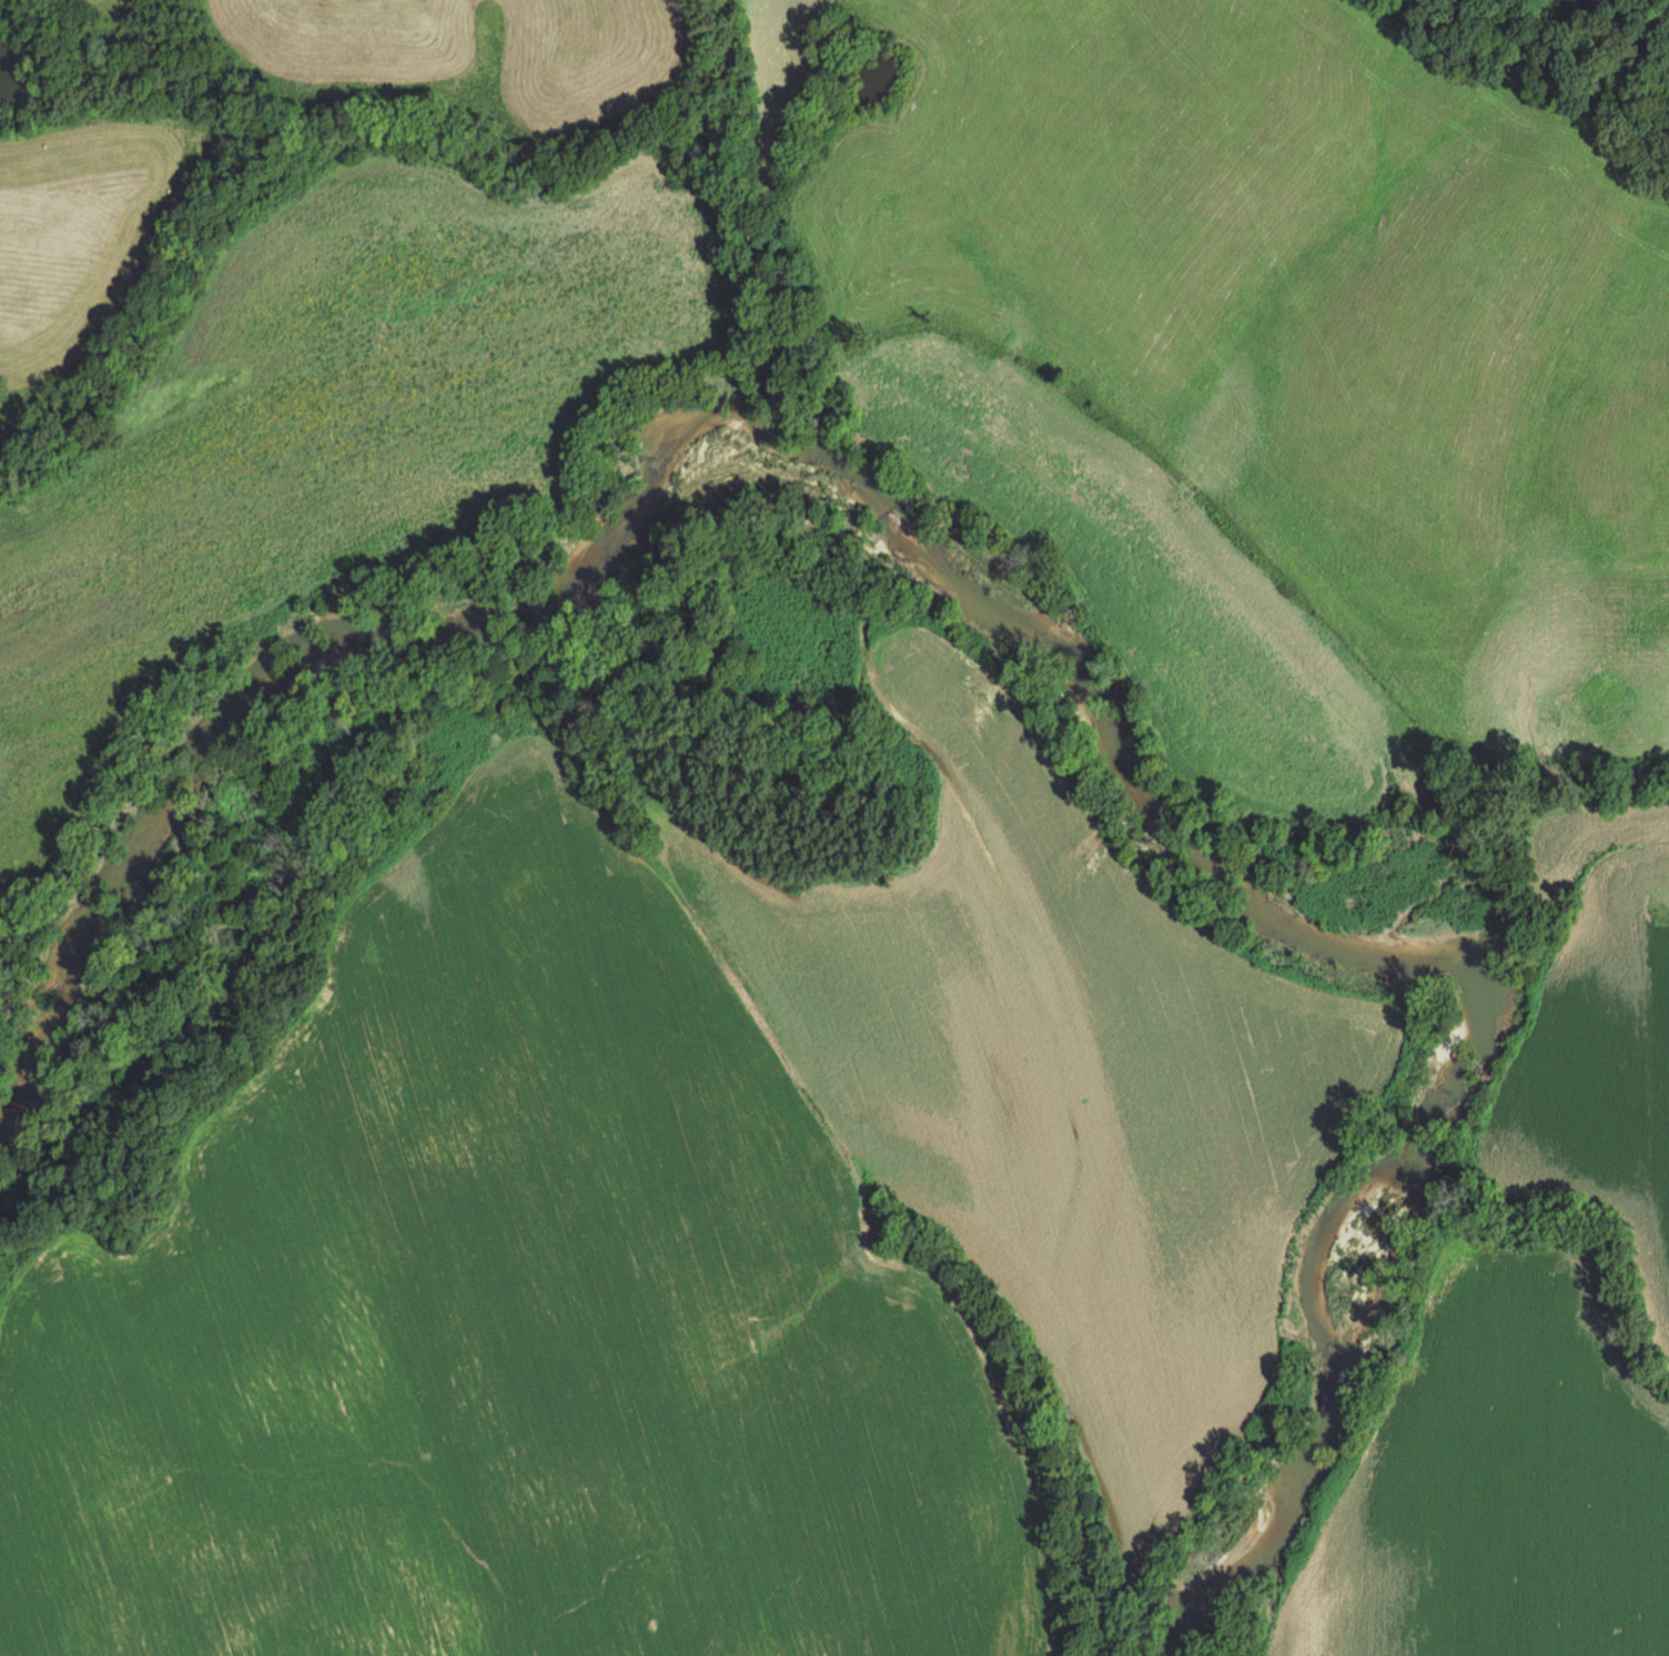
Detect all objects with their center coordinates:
river: (967, 599)

